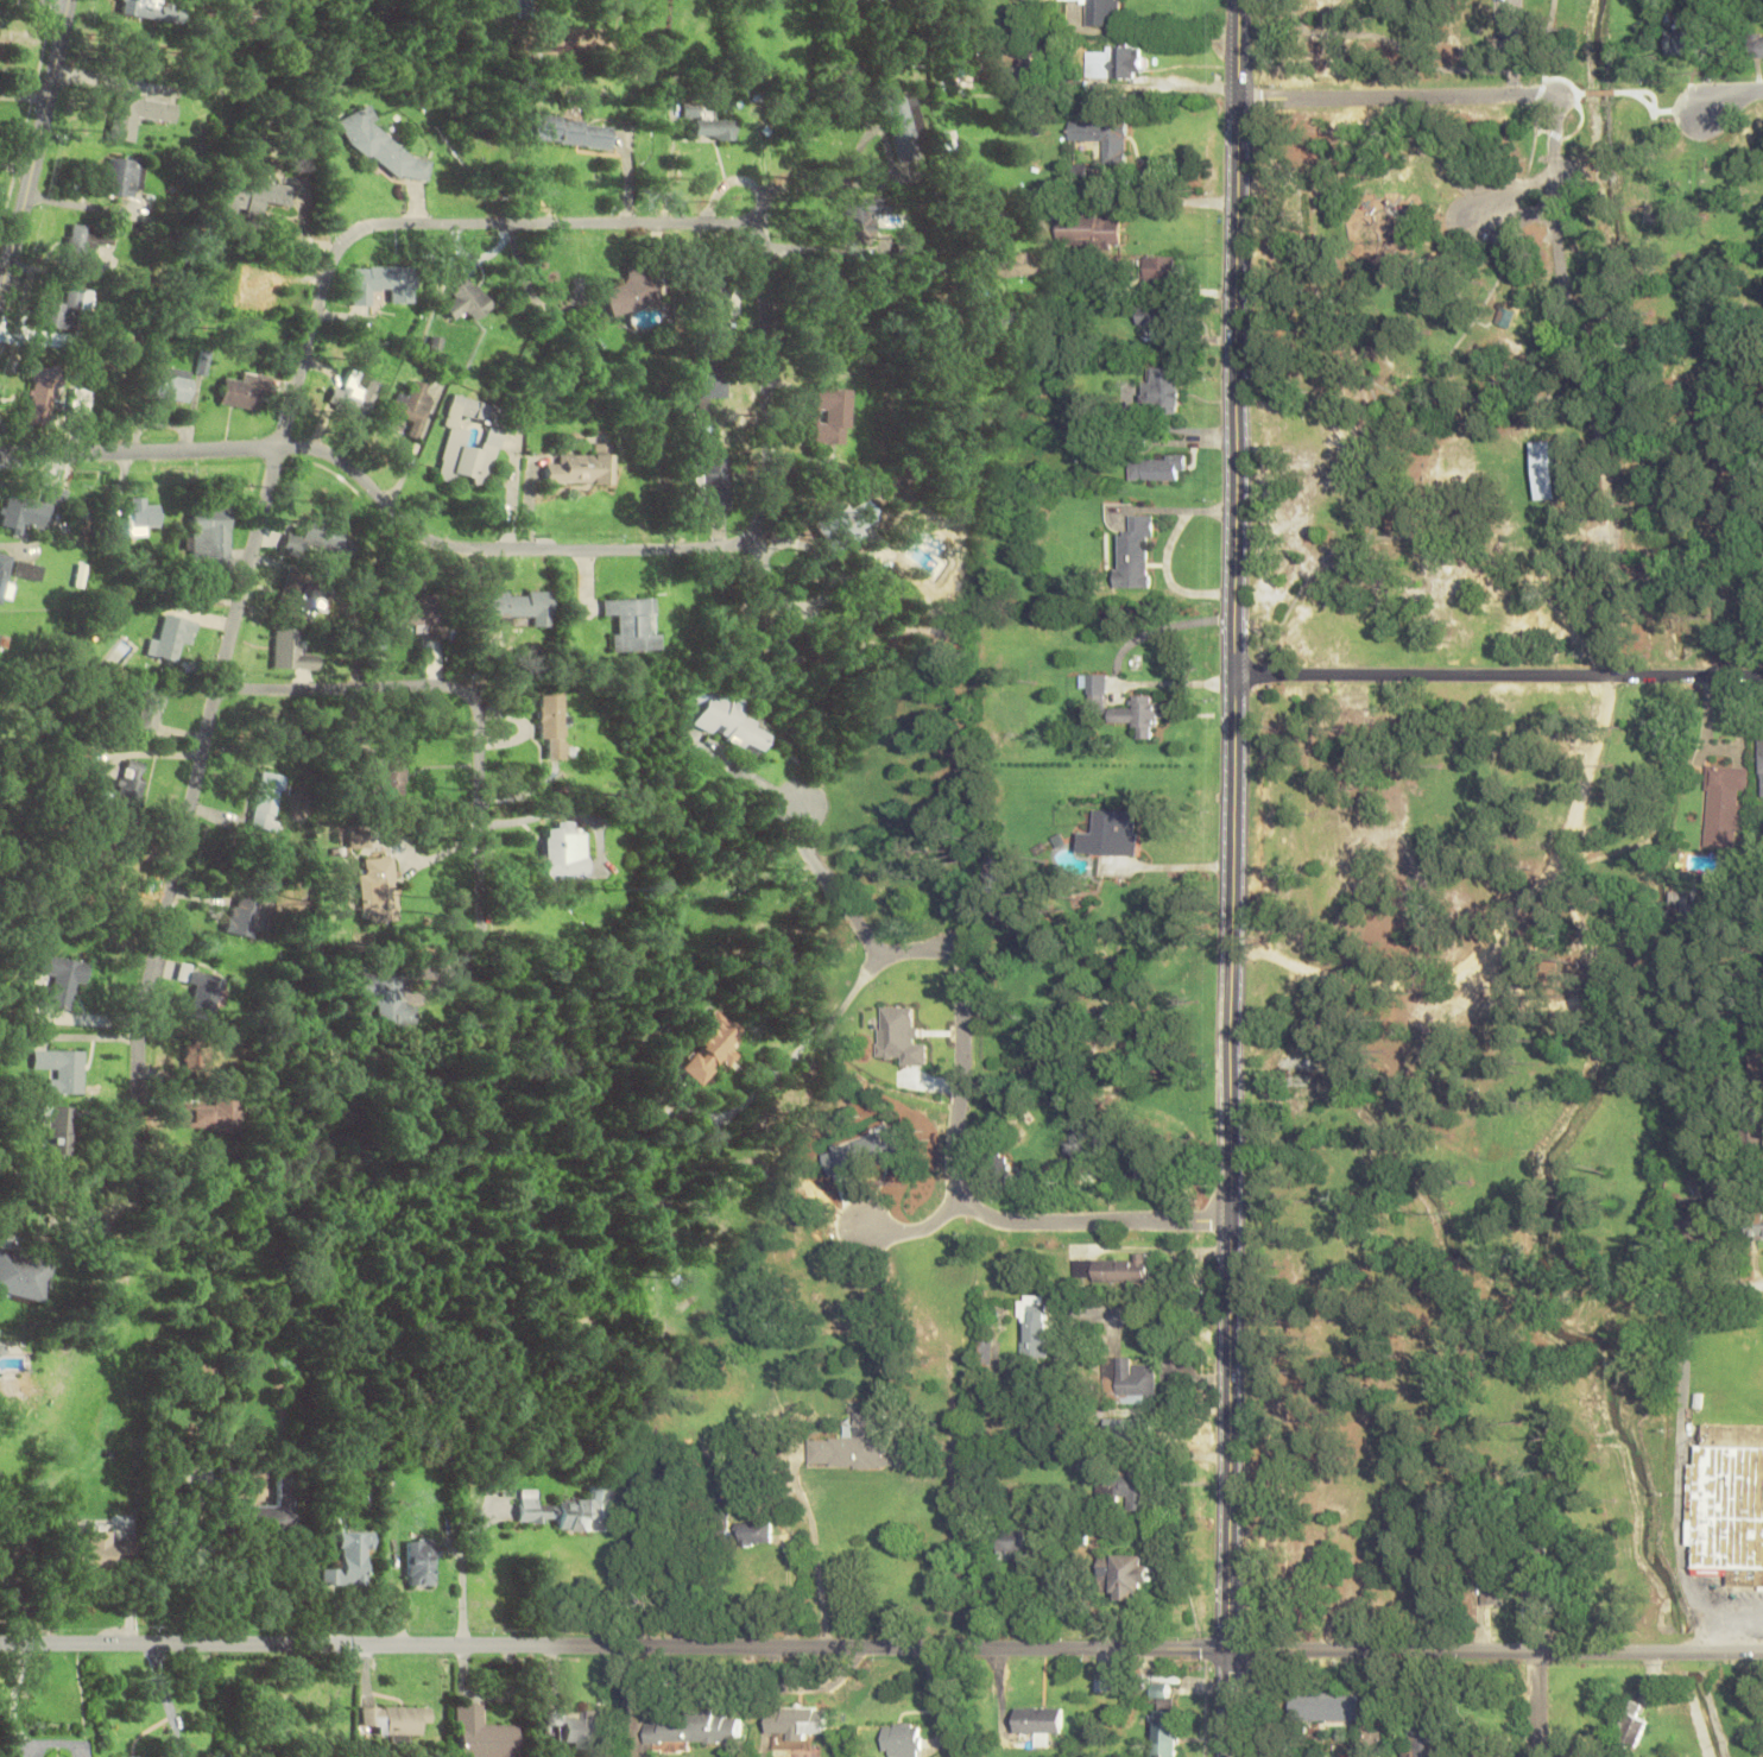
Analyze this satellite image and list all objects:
road: (34, 4)
building: (859, 4)
building: (147, 8)
building: (1101, 12)
park: (1416, 38)
road: (1544, 38)
building: (1683, 40)
road: (1390, 43)
building: (1756, 45)
road: (1512, 46)
road: (1237, 48)
building: (1112, 63)
road: (1515, 70)
road: (1599, 90)
road: (1569, 91)
road: (1396, 95)
road: (1732, 96)
road: (1654, 109)
building: (138, 115)
building: (905, 126)
building: (714, 128)
building: (571, 131)
building: (1104, 138)
building: (380, 144)
road: (36, 154)
building: (122, 176)
building: (252, 197)
road: (1452, 213)
building: (864, 219)
building: (1089, 232)
building: (81, 244)
building: (1013, 265)
building: (1159, 267)
road: (764, 278)
building: (381, 284)
building: (715, 285)
building: (633, 290)
building: (466, 296)
building: (832, 310)
building: (63, 311)
building: (1155, 314)
road: (1477, 315)
building: (1504, 316)
building: (709, 381)
building: (173, 385)
road: (1582, 386)
building: (1161, 390)
building: (245, 392)
building: (44, 393)
building: (355, 397)
building: (413, 407)
building: (830, 418)
building: (455, 437)
road: (139, 451)
building: (583, 467)
building: (1157, 467)
building: (1543, 469)
building: (716, 485)
building: (32, 511)
building: (143, 514)
building: (854, 520)
building: (214, 530)
building: (322, 538)
building: (1133, 554)
building: (31, 570)
building: (4, 575)
building: (301, 598)
building: (524, 605)
building: (418, 617)
building: (636, 624)
building: (176, 631)
building: (0, 633)
building: (292, 650)
road: (1498, 675)
building: (1097, 691)
road: (470, 696)
building: (151, 713)
building: (1140, 715)
building: (727, 720)
building: (551, 726)
building: (1762, 766)
building: (387, 776)
building: (131, 784)
road: (192, 801)
building: (268, 801)
building: (1724, 804)
park: (1452, 821)
building: (1112, 833)
building: (563, 853)
building: (102, 868)
road: (1231, 873)
building: (377, 890)
building: (244, 917)
road: (1496, 936)
building: (62, 980)
building: (202, 992)
building: (387, 998)
building: (1113, 1020)
building: (713, 1047)
building: (197, 1055)
building: (1757, 1063)
building: (62, 1069)
road: (960, 1088)
building: (208, 1115)
building: (59, 1131)
building: (1144, 1165)
building: (1701, 1220)
building: (1753, 1224)
road: (918, 1230)
building: (1121, 1270)
building: (24, 1276)
road: (1718, 1283)
building: (1032, 1331)
building: (1, 1352)
building: (987, 1352)
building: (1129, 1380)
building: (1129, 1427)
building: (851, 1445)
building: (1124, 1492)
building: (1730, 1503)
building: (535, 1508)
building: (266, 1511)
building: (582, 1511)
building: (718, 1525)
building: (757, 1534)
building: (1011, 1542)
building: (95, 1546)
building: (350, 1559)
building: (421, 1562)
building: (1127, 1574)
building: (1396, 1588)
building: (1492, 1589)
building: (1538, 1601)
road: (613, 1648)
road: (1493, 1652)
building: (1108, 1681)
road: (1225, 1705)
road: (1537, 1705)
building: (1325, 1707)
building: (393, 1720)
building: (1041, 1723)
building: (796, 1726)
building: (1168, 1726)
building: (1630, 1727)
building: (575, 1728)
building: (695, 1730)
building: (481, 1734)
building: (1428, 1737)
building: (904, 1739)
building: (114, 1756)

